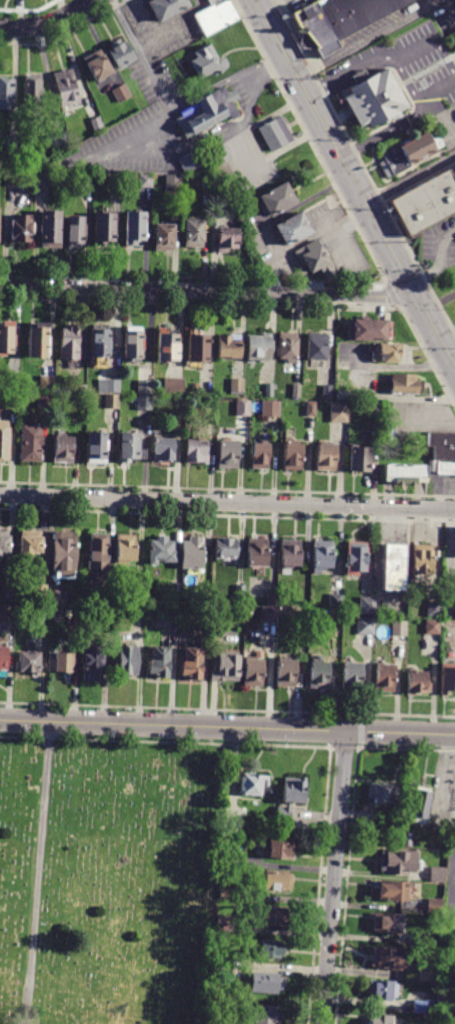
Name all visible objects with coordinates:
road: (264, 4)
road: (450, 7)
building: (166, 8)
building: (215, 16)
building: (336, 19)
road: (48, 22)
road: (367, 39)
road: (411, 42)
building: (120, 53)
road: (443, 54)
road: (141, 55)
building: (208, 62)
building: (97, 65)
road: (224, 80)
building: (66, 88)
road: (435, 89)
building: (33, 91)
road: (316, 91)
road: (411, 93)
building: (5, 94)
building: (121, 94)
building: (373, 101)
flagpole: (339, 103)
building: (206, 112)
building: (96, 125)
road: (130, 133)
building: (275, 134)
building: (59, 143)
building: (407, 154)
building: (219, 155)
building: (11, 160)
building: (190, 161)
building: (307, 165)
building: (43, 178)
building: (116, 178)
building: (14, 179)
building: (86, 179)
building: (144, 180)
road: (409, 180)
building: (175, 182)
building: (206, 183)
road: (353, 185)
building: (277, 201)
building: (426, 201)
building: (219, 205)
building: (134, 228)
building: (21, 229)
building: (293, 229)
road: (335, 229)
building: (50, 230)
building: (103, 230)
building: (74, 232)
building: (193, 235)
building: (163, 239)
building: (227, 241)
building: (315, 259)
road: (436, 262)
traffic signals: (411, 290)
road: (205, 292)
building: (369, 330)
road: (445, 330)
building: (6, 335)
building: (99, 340)
building: (36, 341)
building: (132, 341)
building: (70, 342)
building: (166, 344)
building: (197, 345)
building: (228, 345)
building: (257, 345)
building: (287, 345)
building: (317, 348)
building: (386, 353)
building: (13, 382)
building: (47, 382)
building: (405, 383)
building: (173, 385)
building: (108, 386)
building: (236, 386)
building: (144, 387)
building: (195, 387)
building: (268, 390)
building: (296, 390)
building: (327, 391)
building: (342, 394)
building: (10, 400)
building: (45, 401)
building: (111, 401)
building: (144, 403)
building: (242, 407)
building: (270, 408)
building: (311, 408)
building: (375, 409)
building: (338, 411)
building: (31, 442)
building: (4, 443)
building: (443, 444)
building: (95, 447)
building: (130, 447)
building: (63, 449)
building: (162, 449)
building: (196, 450)
building: (227, 453)
building: (293, 454)
building: (259, 455)
building: (326, 457)
building: (359, 458)
building: (446, 467)
building: (405, 474)
road: (227, 503)
building: (4, 540)
building: (29, 543)
building: (125, 547)
building: (226, 548)
building: (161, 550)
building: (97, 551)
building: (64, 552)
building: (257, 552)
building: (192, 553)
building: (290, 555)
building: (322, 555)
building: (356, 558)
building: (422, 560)
building: (393, 567)
building: (139, 588)
building: (175, 589)
building: (9, 591)
building: (39, 592)
building: (240, 592)
building: (57, 598)
building: (271, 598)
building: (336, 601)
building: (367, 605)
building: (434, 609)
building: (249, 612)
building: (7, 613)
building: (39, 614)
building: (305, 614)
building: (269, 615)
building: (57, 616)
building: (101, 616)
building: (137, 617)
building: (365, 626)
building: (432, 627)
building: (400, 628)
building: (3, 658)
building: (126, 660)
building: (27, 661)
building: (159, 661)
building: (91, 662)
building: (59, 663)
building: (192, 664)
building: (226, 669)
building: (253, 673)
building: (288, 673)
building: (320, 676)
building: (352, 676)
building: (385, 678)
building: (448, 680)
building: (418, 683)
road: (227, 726)
building: (252, 784)
building: (383, 792)
building: (291, 796)
building: (421, 805)
building: (408, 839)
building: (280, 850)
building: (229, 860)
building: (398, 862)
park: (109, 871)
road: (38, 873)
building: (438, 873)
road: (453, 873)
road: (334, 877)
building: (277, 881)
road: (453, 885)
building: (392, 889)
building: (227, 893)
road: (450, 904)
building: (435, 906)
building: (270, 916)
parking lot: (453, 916)
building: (387, 922)
building: (224, 923)
building: (423, 941)
building: (271, 949)
building: (220, 952)
building: (387, 956)
building: (446, 964)
building: (226, 972)
building: (428, 973)
building: (266, 983)
building: (381, 989)
building: (444, 1003)
building: (423, 1006)
building: (265, 1015)
building: (217, 1019)
building: (380, 1019)

